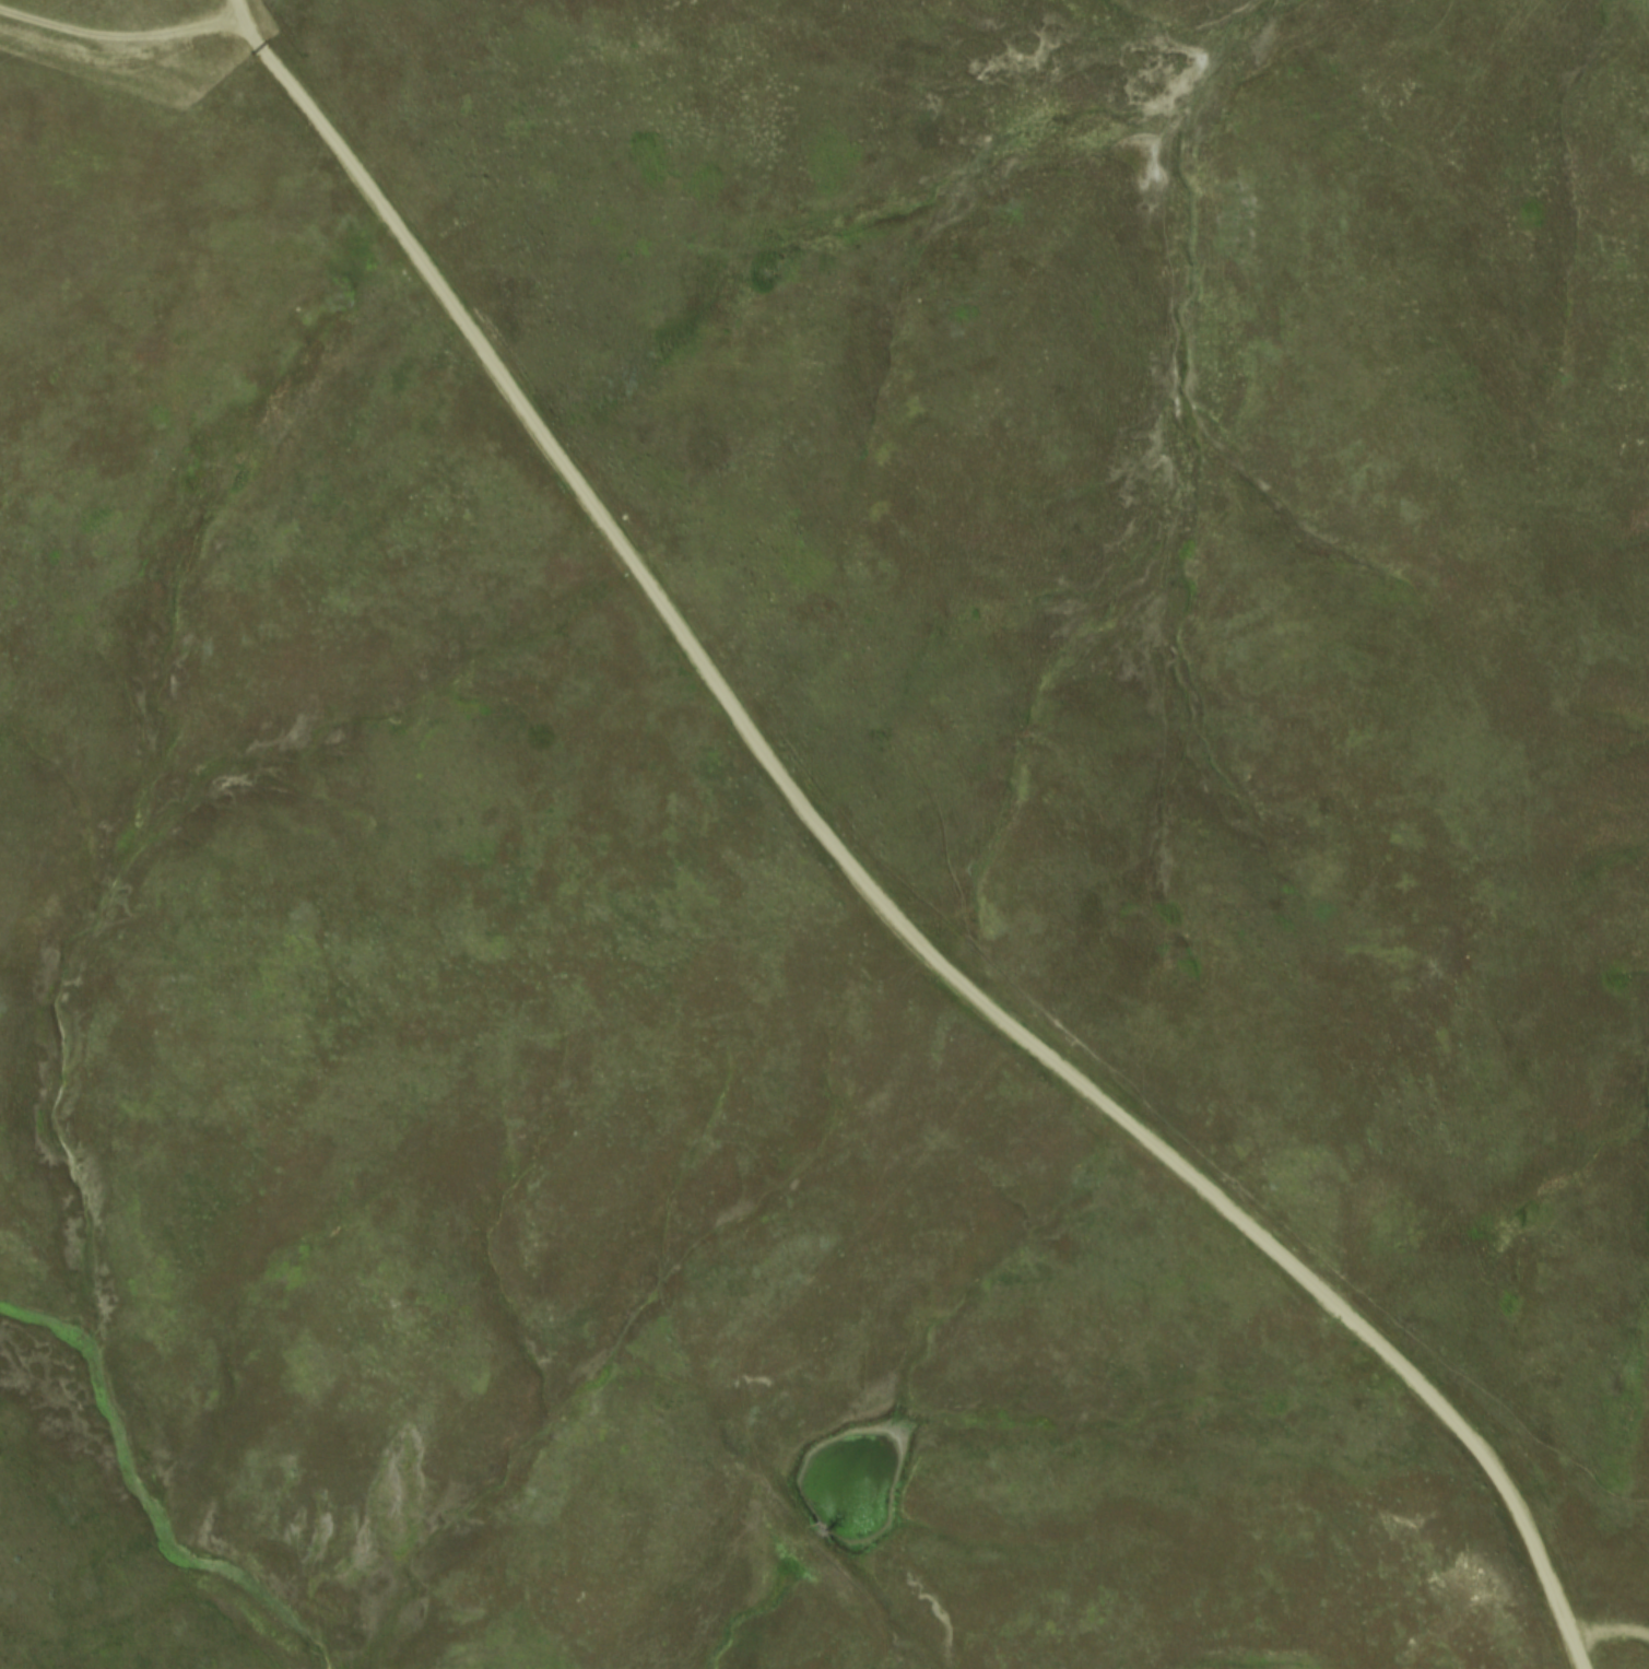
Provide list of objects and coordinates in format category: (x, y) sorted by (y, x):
road: (121, 56)
road: (858, 881)

